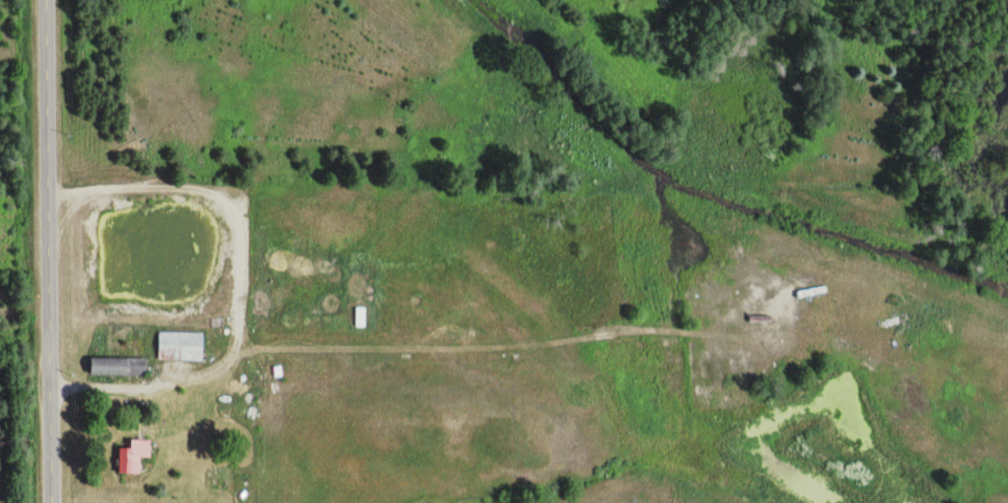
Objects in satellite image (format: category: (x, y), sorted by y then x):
road: (47, 251)
building: (181, 347)
building: (118, 367)
building: (133, 457)

